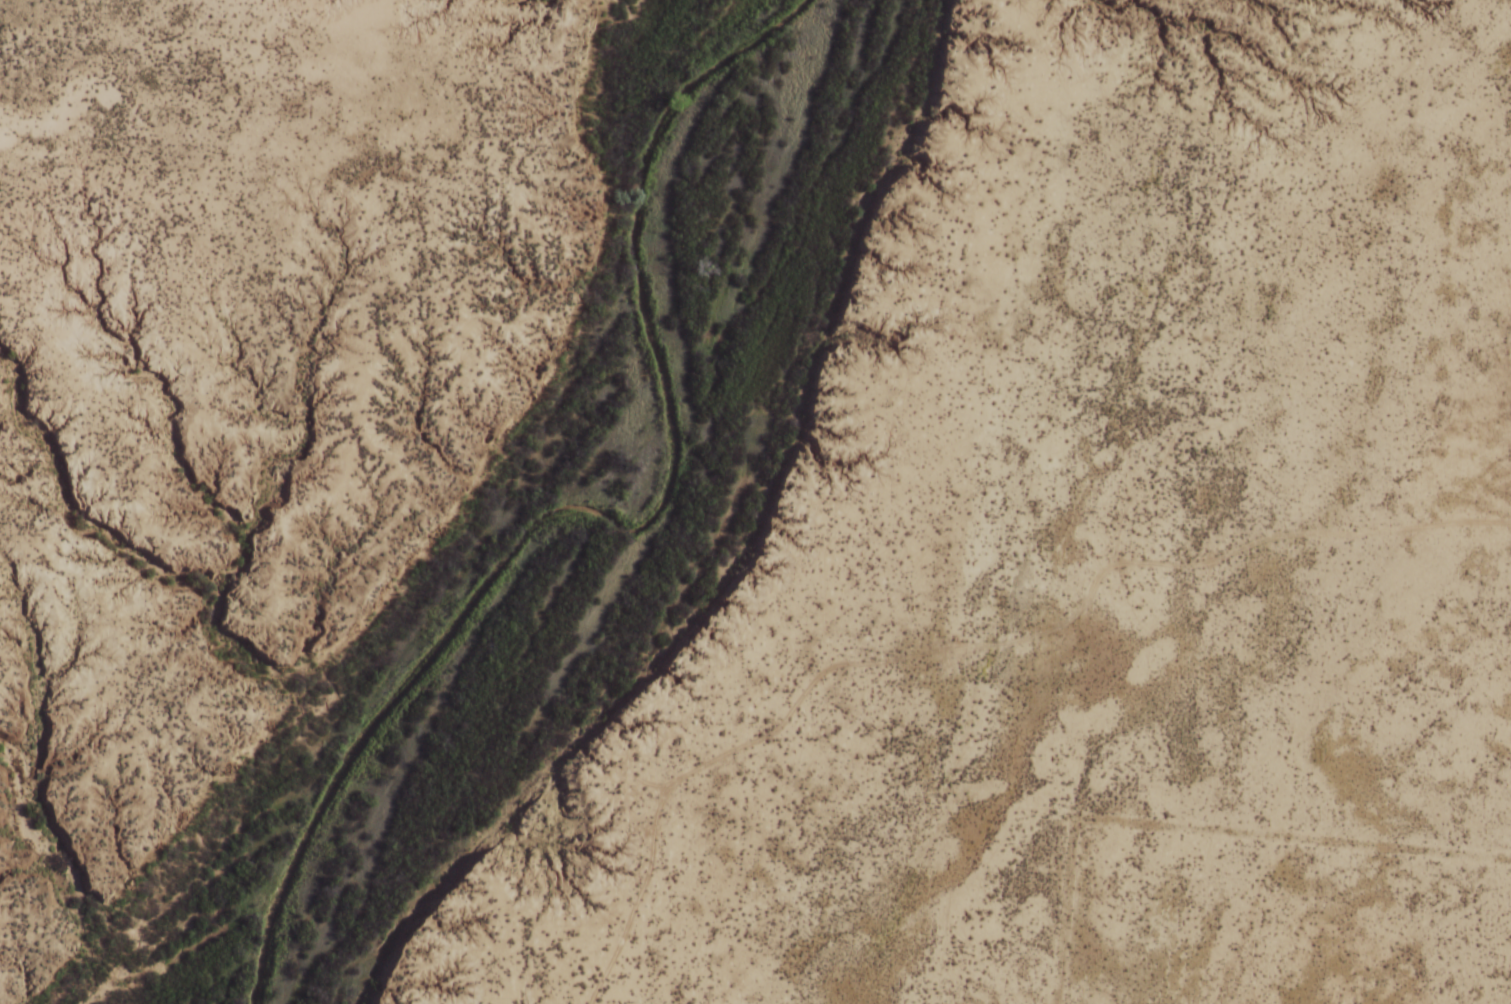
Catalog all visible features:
river: (586, 513)

